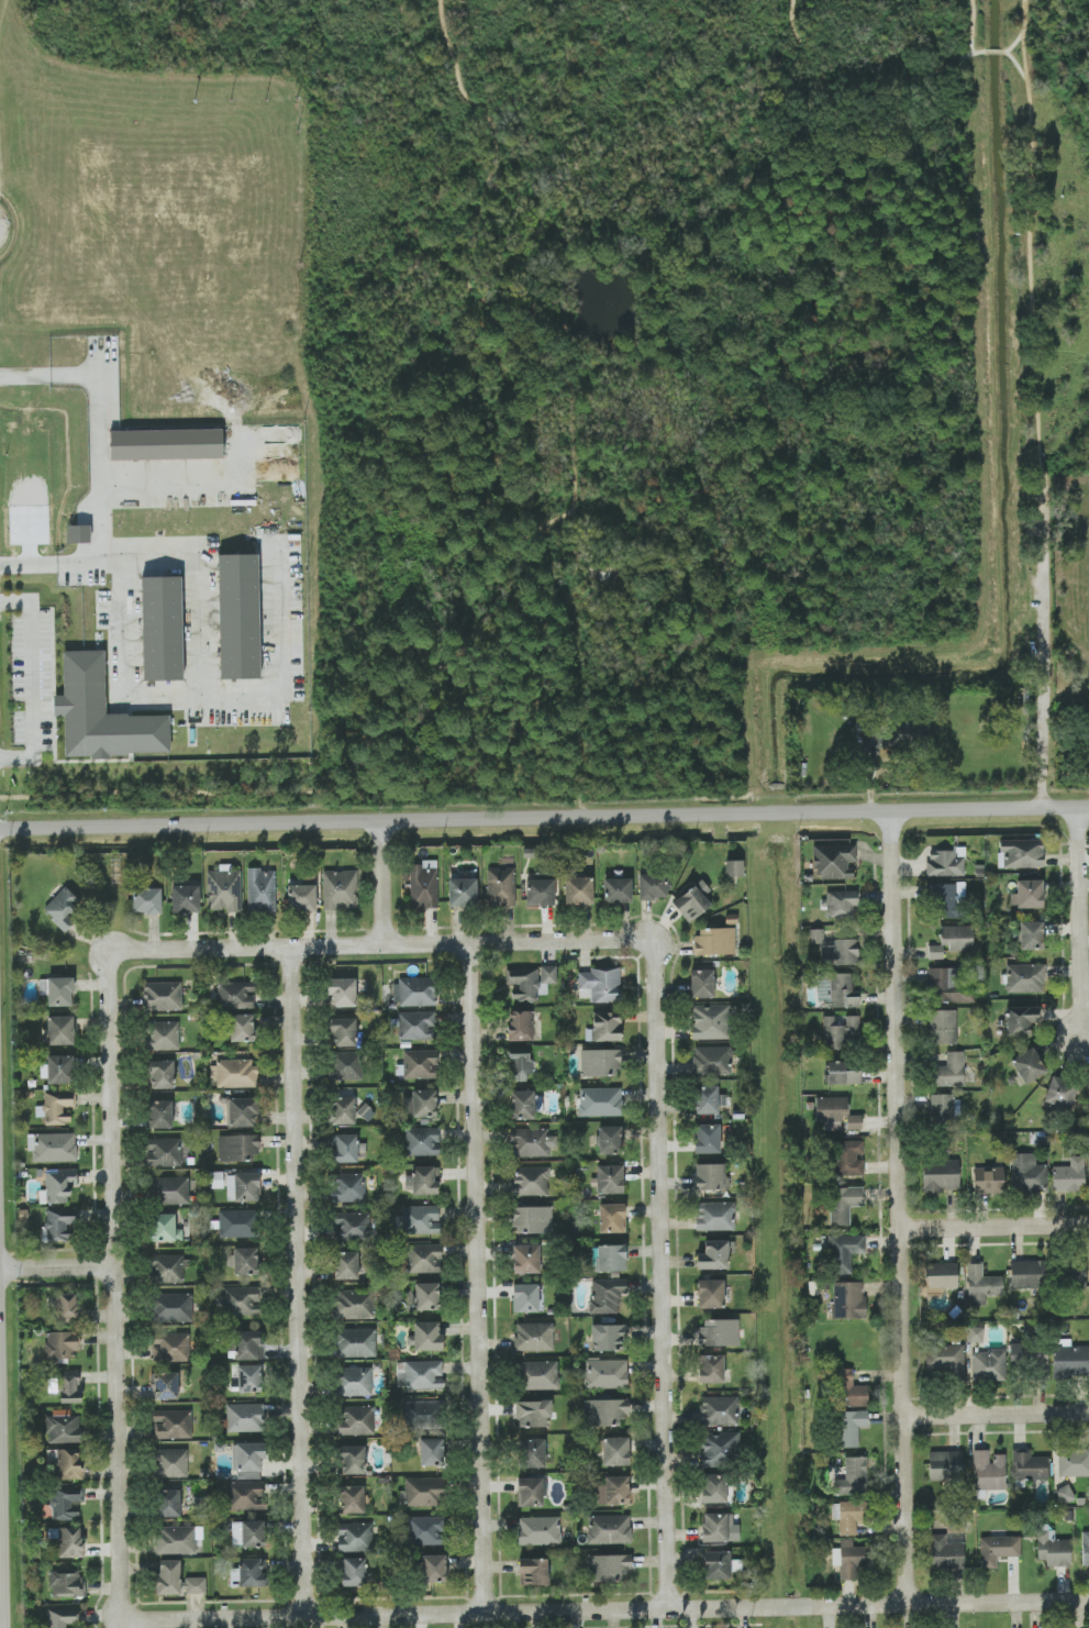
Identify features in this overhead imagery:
road: (1030, 236)
park: (1049, 365)
building: (166, 444)
road: (101, 473)
road: (157, 475)
building: (79, 533)
building: (238, 616)
building: (162, 628)
road: (1047, 641)
road: (125, 661)
road: (31, 678)
road: (198, 690)
building: (102, 713)
road: (544, 815)
building: (1022, 853)
building: (833, 861)
building: (945, 862)
building: (734, 867)
road: (382, 882)
building: (423, 885)
building: (501, 886)
building: (653, 886)
building: (224, 888)
building: (340, 889)
building: (262, 890)
building: (578, 890)
building: (618, 890)
building: (463, 891)
building: (540, 893)
building: (1027, 894)
building: (302, 897)
building: (185, 898)
building: (147, 900)
building: (947, 900)
building: (693, 901)
building: (841, 902)
building: (62, 908)
road: (1081, 922)
building: (815, 935)
building: (1031, 935)
building: (957, 937)
building: (714, 941)
road: (381, 945)
building: (840, 952)
building: (935, 952)
building: (1025, 977)
building: (701, 984)
building: (943, 984)
building: (599, 985)
building: (57, 990)
building: (842, 990)
building: (342, 992)
building: (414, 992)
building: (163, 996)
building: (1021, 1020)
building: (711, 1021)
building: (416, 1026)
building: (521, 1026)
building: (605, 1027)
building: (943, 1027)
building: (242, 1028)
building: (59, 1030)
building: (343, 1032)
building: (841, 1032)
building: (164, 1036)
building: (712, 1060)
building: (601, 1062)
building: (420, 1064)
building: (346, 1065)
building: (1029, 1065)
building: (520, 1066)
building: (60, 1070)
building: (949, 1071)
building: (236, 1073)
building: (843, 1073)
building: (162, 1074)
building: (1088, 1086)
building: (705, 1100)
building: (1087, 1100)
building: (599, 1101)
building: (421, 1104)
building: (522, 1105)
building: (942, 1107)
building: (56, 1109)
building: (343, 1110)
building: (831, 1110)
building: (242, 1111)
building: (366, 1112)
building: (160, 1114)
building: (854, 1122)
building: (707, 1139)
building: (609, 1140)
building: (423, 1141)
building: (531, 1142)
building: (53, 1147)
building: (237, 1148)
building: (348, 1149)
building: (164, 1152)
building: (849, 1158)
building: (1027, 1173)
building: (941, 1175)
building: (1069, 1175)
building: (710, 1177)
building: (609, 1178)
building: (216, 1180)
building: (988, 1180)
building: (422, 1181)
building: (531, 1181)
building: (58, 1185)
building: (243, 1187)
building: (348, 1187)
building: (170, 1189)
building: (844, 1204)
road: (899, 1206)
building: (715, 1216)
building: (611, 1218)
building: (421, 1219)
building: (532, 1220)
building: (237, 1222)
building: (58, 1225)
building: (353, 1226)
road: (994, 1227)
building: (165, 1228)
building: (843, 1252)
building: (714, 1254)
building: (610, 1258)
building: (425, 1259)
building: (526, 1259)
building: (244, 1261)
building: (346, 1265)
road: (58, 1266)
building: (167, 1269)
building: (1026, 1274)
road: (663, 1275)
building: (941, 1276)
road: (478, 1277)
building: (1073, 1277)
road: (299, 1282)
building: (981, 1285)
road: (116, 1286)
building: (710, 1294)
building: (607, 1295)
building: (427, 1296)
building: (525, 1297)
building: (241, 1300)
building: (848, 1300)
building: (355, 1304)
building: (65, 1308)
building: (173, 1308)
building: (720, 1332)
building: (975, 1333)
building: (425, 1337)
building: (534, 1337)
building: (608, 1338)
building: (355, 1342)
building: (60, 1344)
building: (246, 1345)
building: (170, 1347)
building: (1030, 1359)
building: (1070, 1359)
building: (946, 1360)
building: (988, 1365)
building: (711, 1369)
building: (605, 1373)
building: (420, 1374)
building: (538, 1375)
building: (249, 1378)
building: (354, 1381)
building: (164, 1385)
building: (69, 1386)
building: (851, 1389)
building: (719, 1410)
building: (605, 1411)
building: (533, 1414)
building: (423, 1415)
road: (996, 1415)
building: (245, 1417)
building: (357, 1420)
parking lot: (1, 1421)
building: (173, 1424)
building: (64, 1427)
building: (849, 1427)
building: (720, 1449)
building: (615, 1451)
building: (432, 1452)
building: (532, 1453)
building: (248, 1460)
building: (353, 1460)
building: (66, 1462)
building: (171, 1463)
building: (1073, 1463)
building: (945, 1465)
building: (1030, 1465)
building: (987, 1471)
building: (853, 1477)
road: (4, 1480)
building: (714, 1487)
building: (613, 1491)
building: (424, 1492)
building: (530, 1492)
building: (1065, 1493)
building: (246, 1495)
building: (352, 1499)
building: (65, 1503)
building: (168, 1503)
building: (848, 1516)
building: (714, 1527)
building: (610, 1529)
building: (426, 1530)
building: (538, 1530)
building: (248, 1533)
building: (354, 1537)
building: (177, 1540)
building: (68, 1541)
building: (1053, 1548)
building: (998, 1549)
building: (1085, 1549)
building: (946, 1553)
building: (849, 1559)
building: (716, 1564)
building: (608, 1568)
building: (434, 1569)
building: (354, 1572)
building: (533, 1572)
building: (247, 1574)
building: (168, 1577)
building: (66, 1584)
building: (195, 1585)
road: (998, 1603)
road: (519, 1613)
building: (63, 1617)

